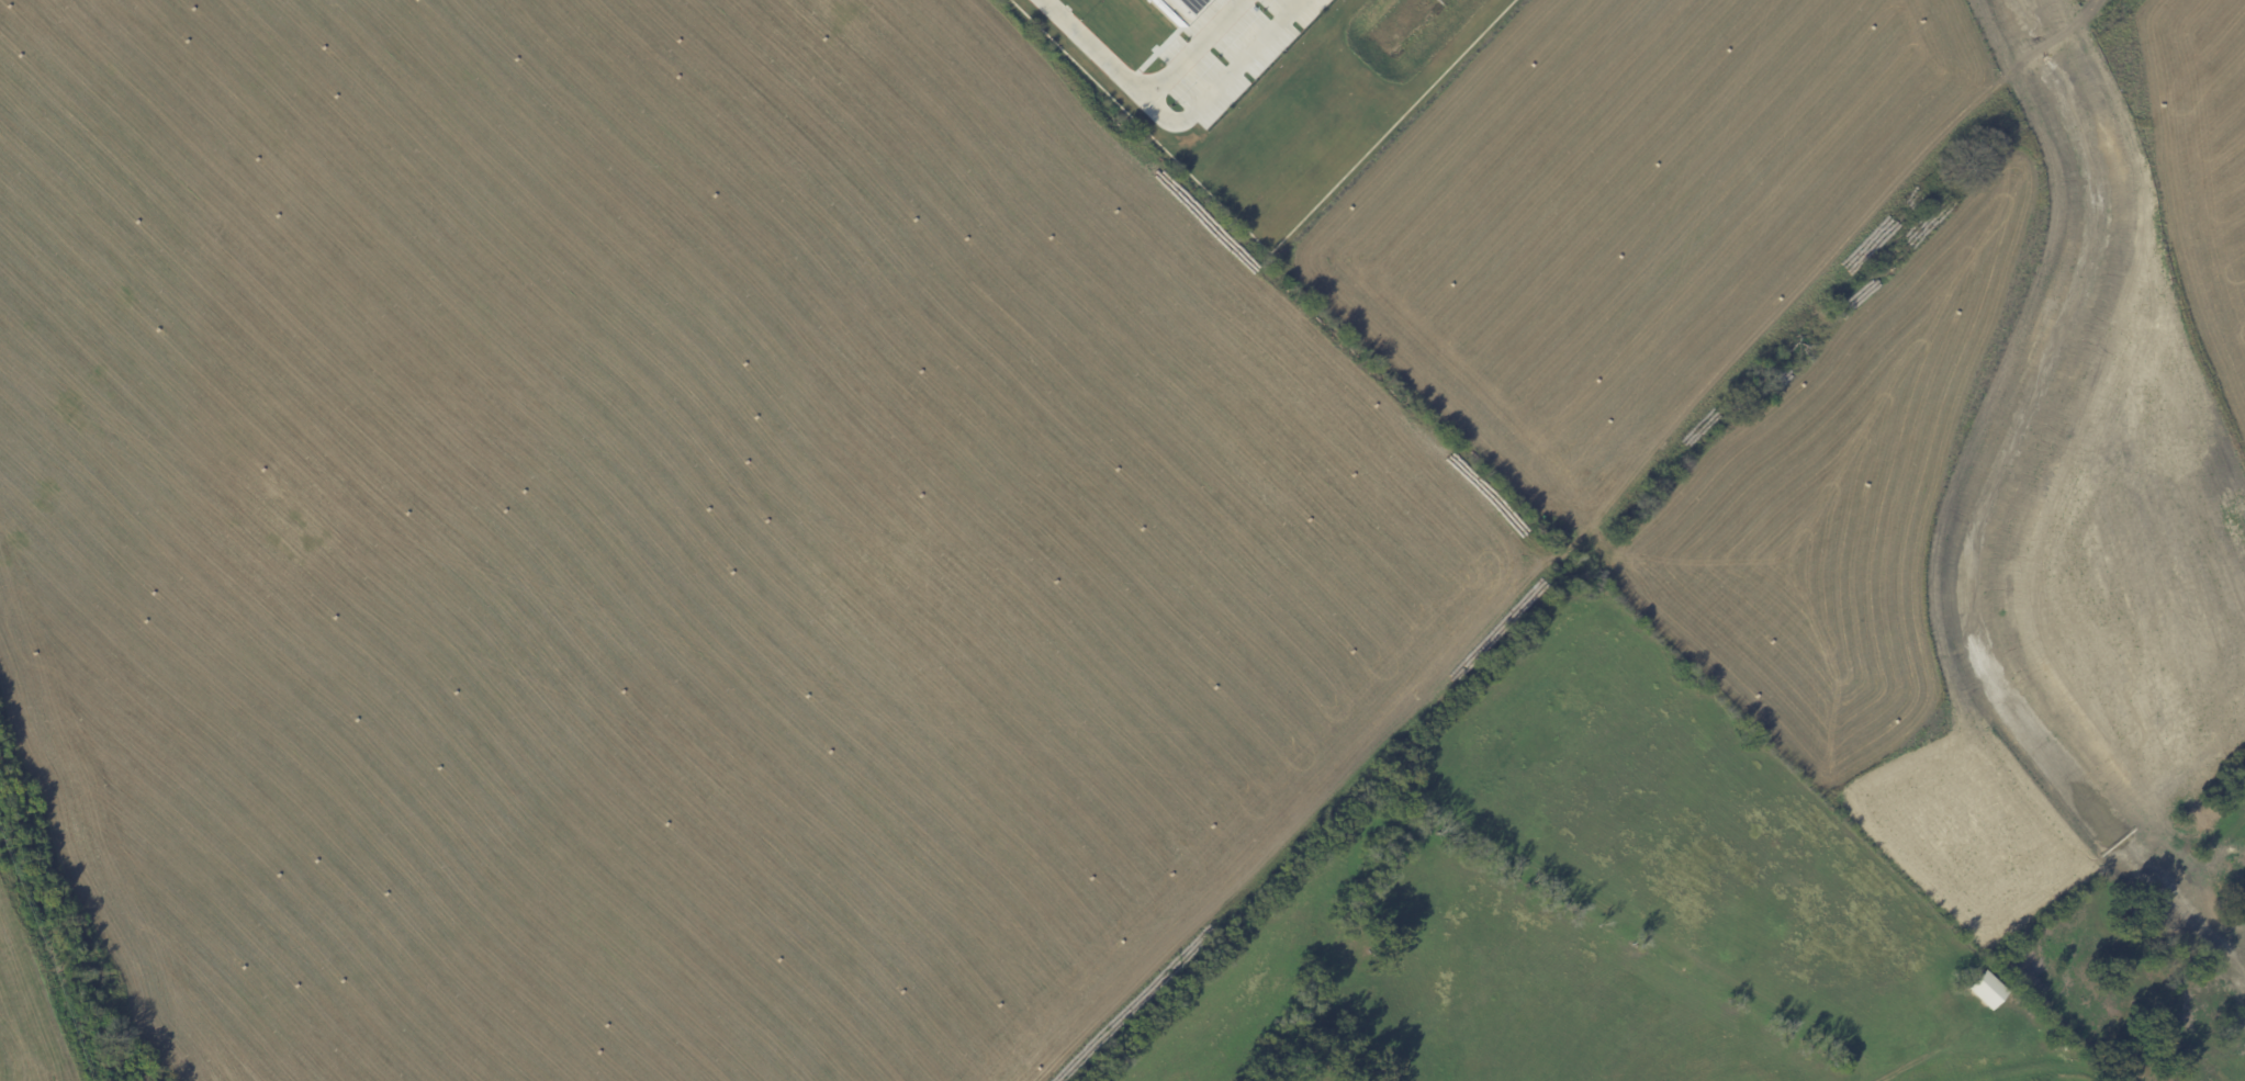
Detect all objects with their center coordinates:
road: (1237, 56)
road: (1150, 80)
building: (1984, 989)
road: (1908, 1065)

